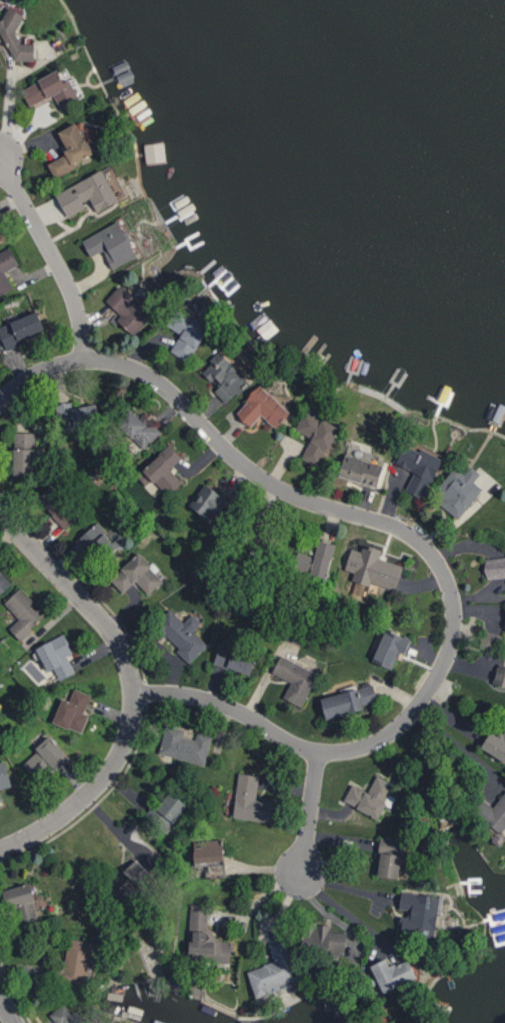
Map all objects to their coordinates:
building: (14, 36)
building: (50, 90)
building: (69, 150)
building: (154, 151)
building: (87, 194)
building: (0, 239)
building: (111, 244)
road: (51, 256)
building: (6, 268)
building: (131, 307)
building: (20, 329)
building: (186, 334)
building: (225, 376)
building: (261, 407)
building: (76, 414)
building: (138, 427)
building: (316, 436)
building: (23, 453)
building: (418, 468)
building: (164, 470)
building: (360, 470)
building: (457, 490)
building: (208, 501)
building: (58, 506)
building: (97, 541)
road: (422, 545)
building: (315, 559)
building: (373, 567)
building: (494, 567)
building: (137, 573)
building: (4, 580)
building: (23, 611)
building: (181, 633)
building: (390, 647)
building: (56, 655)
building: (235, 658)
building: (500, 674)
building: (295, 678)
road: (131, 688)
building: (348, 699)
building: (72, 710)
building: (185, 744)
road: (457, 744)
building: (495, 744)
building: (43, 758)
building: (4, 775)
building: (371, 796)
building: (0, 798)
building: (250, 799)
building: (167, 810)
building: (491, 812)
road: (310, 813)
building: (208, 850)
building: (389, 856)
building: (216, 868)
building: (134, 879)
building: (22, 905)
road: (345, 912)
building: (418, 914)
building: (325, 936)
building: (205, 938)
building: (77, 960)
building: (274, 971)
building: (392, 973)
road: (7, 1009)
building: (68, 1015)
building: (90, 1022)

